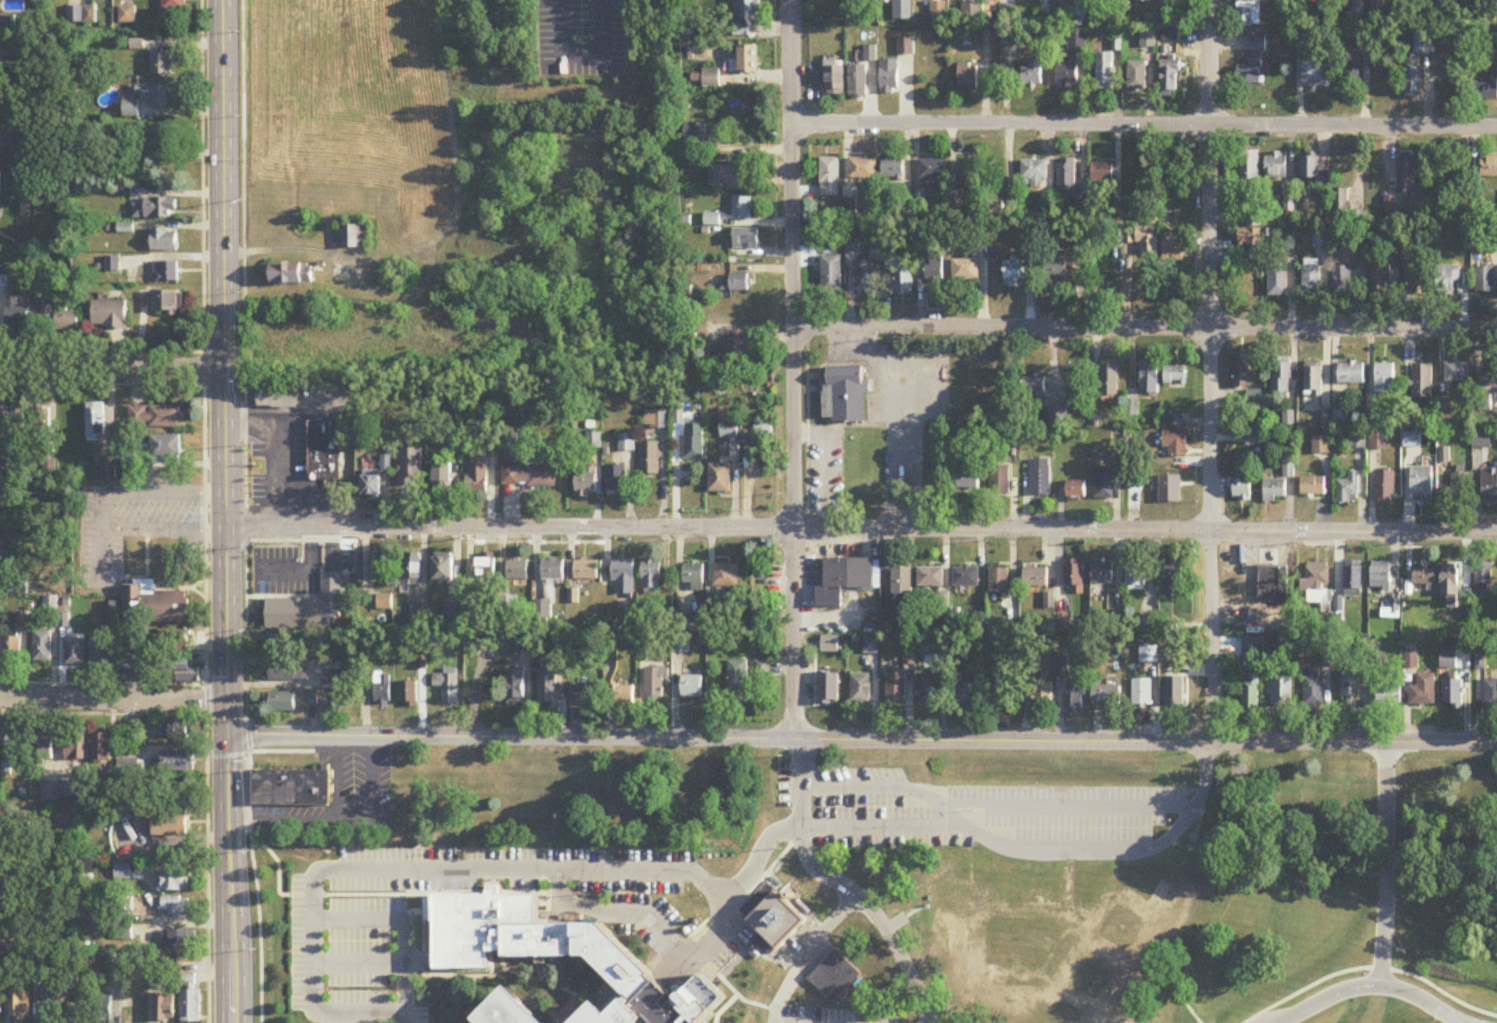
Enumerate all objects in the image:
building: (1142, 1)
building: (172, 5)
building: (1048, 7)
building: (902, 11)
building: (938, 11)
building: (1247, 14)
building: (126, 16)
building: (971, 16)
building: (746, 17)
building: (1168, 21)
building: (1009, 35)
building: (1147, 41)
building: (1423, 43)
building: (1256, 45)
building: (905, 47)
building: (748, 60)
building: (1072, 63)
building: (163, 65)
building: (1354, 72)
building: (1105, 73)
building: (1250, 74)
building: (1032, 75)
building: (1314, 75)
building: (967, 77)
building: (1136, 77)
building: (889, 78)
building: (711, 79)
building: (835, 81)
building: (858, 81)
building: (1170, 81)
building: (1412, 84)
building: (1486, 93)
building: (158, 96)
road: (1145, 126)
building: (695, 134)
building: (163, 140)
building: (1276, 166)
building: (1489, 167)
building: (863, 168)
building: (893, 168)
building: (1249, 168)
building: (931, 170)
building: (1313, 172)
building: (969, 173)
building: (1033, 174)
building: (1101, 174)
building: (1408, 175)
building: (829, 177)
building: (1066, 177)
building: (730, 178)
building: (1341, 207)
building: (742, 208)
building: (155, 210)
building: (994, 211)
building: (1390, 213)
building: (1451, 218)
building: (417, 230)
building: (351, 238)
building: (1321, 239)
building: (745, 240)
building: (1249, 240)
building: (164, 241)
building: (1288, 243)
building: (1174, 251)
building: (1054, 268)
building: (965, 270)
building: (934, 271)
building: (1013, 271)
building: (166, 272)
building: (291, 274)
building: (830, 274)
building: (900, 275)
building: (1419, 275)
building: (864, 276)
building: (1380, 276)
building: (1311, 278)
building: (1448, 280)
building: (1485, 280)
building: (1277, 281)
building: (1342, 281)
building: (736, 284)
building: (165, 304)
building: (17, 315)
building: (110, 316)
building: (61, 318)
road: (1146, 329)
building: (740, 350)
road: (113, 369)
road: (794, 370)
road: (1209, 372)
building: (1241, 373)
building: (1457, 373)
building: (1351, 374)
building: (1174, 376)
building: (1281, 376)
building: (1108, 377)
building: (1148, 378)
building: (1312, 379)
building: (1384, 379)
building: (1489, 379)
building: (1422, 383)
building: (1033, 395)
building: (844, 396)
building: (1253, 396)
building: (278, 397)
road: (913, 402)
road: (281, 410)
building: (158, 417)
building: (40, 419)
building: (1341, 419)
building: (16, 420)
building: (659, 420)
building: (1178, 421)
building: (1376, 421)
building: (95, 422)
building: (763, 429)
building: (728, 430)
building: (957, 439)
building: (1481, 441)
building: (693, 442)
building: (1367, 442)
building: (625, 443)
building: (454, 444)
building: (1175, 445)
building: (1321, 446)
building: (166, 447)
building: (322, 451)
building: (649, 460)
building: (107, 467)
building: (410, 467)
building: (477, 472)
building: (528, 477)
building: (1039, 478)
building: (442, 479)
building: (719, 479)
building: (615, 480)
building: (966, 480)
building: (999, 481)
building: (586, 483)
building: (1103, 484)
building: (1422, 485)
building: (372, 487)
building: (1312, 487)
building: (1489, 488)
building: (1384, 489)
road: (886, 490)
building: (1076, 490)
building: (1169, 490)
building: (1348, 490)
building: (1461, 490)
building: (1242, 491)
building: (1275, 491)
road: (206, 511)
road: (228, 511)
road: (245, 511)
road: (102, 513)
road: (862, 531)
building: (379, 566)
building: (480, 568)
building: (443, 570)
building: (410, 571)
building: (517, 571)
building: (553, 571)
building: (585, 571)
building: (1173, 572)
building: (1102, 574)
building: (1380, 574)
building: (1483, 575)
building: (727, 576)
building: (1073, 576)
building: (694, 577)
building: (623, 578)
building: (650, 578)
building: (930, 578)
building: (965, 578)
building: (1035, 578)
building: (1136, 578)
building: (1424, 578)
building: (1352, 580)
building: (843, 581)
building: (998, 582)
building: (1318, 584)
building: (902, 585)
building: (1450, 585)
building: (1273, 586)
building: (385, 603)
building: (154, 606)
building: (309, 609)
building: (543, 610)
building: (687, 624)
building: (1148, 625)
building: (523, 643)
building: (829, 645)
building: (173, 646)
building: (870, 646)
building: (42, 647)
building: (280, 647)
building: (932, 647)
building: (12, 649)
building: (1253, 652)
building: (75, 653)
building: (99, 653)
building: (1148, 655)
building: (1447, 660)
building: (1410, 661)
building: (131, 665)
building: (762, 669)
building: (178, 671)
building: (286, 675)
building: (332, 680)
building: (737, 680)
building: (654, 685)
building: (1349, 685)
building: (827, 686)
building: (515, 687)
building: (692, 687)
building: (895, 687)
building: (860, 689)
building: (382, 690)
building: (931, 691)
building: (1423, 691)
building: (1282, 692)
building: (1313, 692)
building: (1142, 693)
building: (1250, 693)
building: (1043, 694)
building: (408, 695)
building: (622, 695)
building: (1452, 695)
building: (1490, 695)
building: (971, 696)
building: (1388, 696)
building: (582, 697)
building: (1106, 698)
road: (113, 699)
building: (1076, 699)
building: (282, 703)
building: (177, 731)
traffic signals: (228, 738)
road: (862, 740)
building: (101, 746)
building: (17, 747)
building: (75, 747)
building: (43, 750)
road: (291, 753)
building: (177, 762)
road: (880, 784)
building: (291, 790)
building: (50, 793)
road: (1058, 805)
building: (1, 816)
building: (164, 824)
road: (326, 825)
road: (1036, 838)
road: (758, 861)
road: (1386, 864)
road: (462, 872)
building: (123, 873)
building: (176, 883)
road: (842, 886)
road: (317, 896)
building: (4, 905)
building: (175, 907)
road: (617, 914)
road: (411, 915)
building: (777, 919)
road: (404, 929)
road: (423, 936)
building: (0, 937)
building: (182, 940)
building: (1060, 949)
road: (804, 954)
building: (460, 956)
road: (360, 966)
road: (448, 977)
building: (834, 979)
building: (187, 981)
road: (1373, 985)
road: (470, 1000)
building: (49, 1004)
building: (19, 1005)
building: (0, 1006)
building: (189, 1007)
building: (510, 1008)
building: (164, 1009)
building: (104, 1012)
building: (78, 1013)
building: (1142, 1021)

